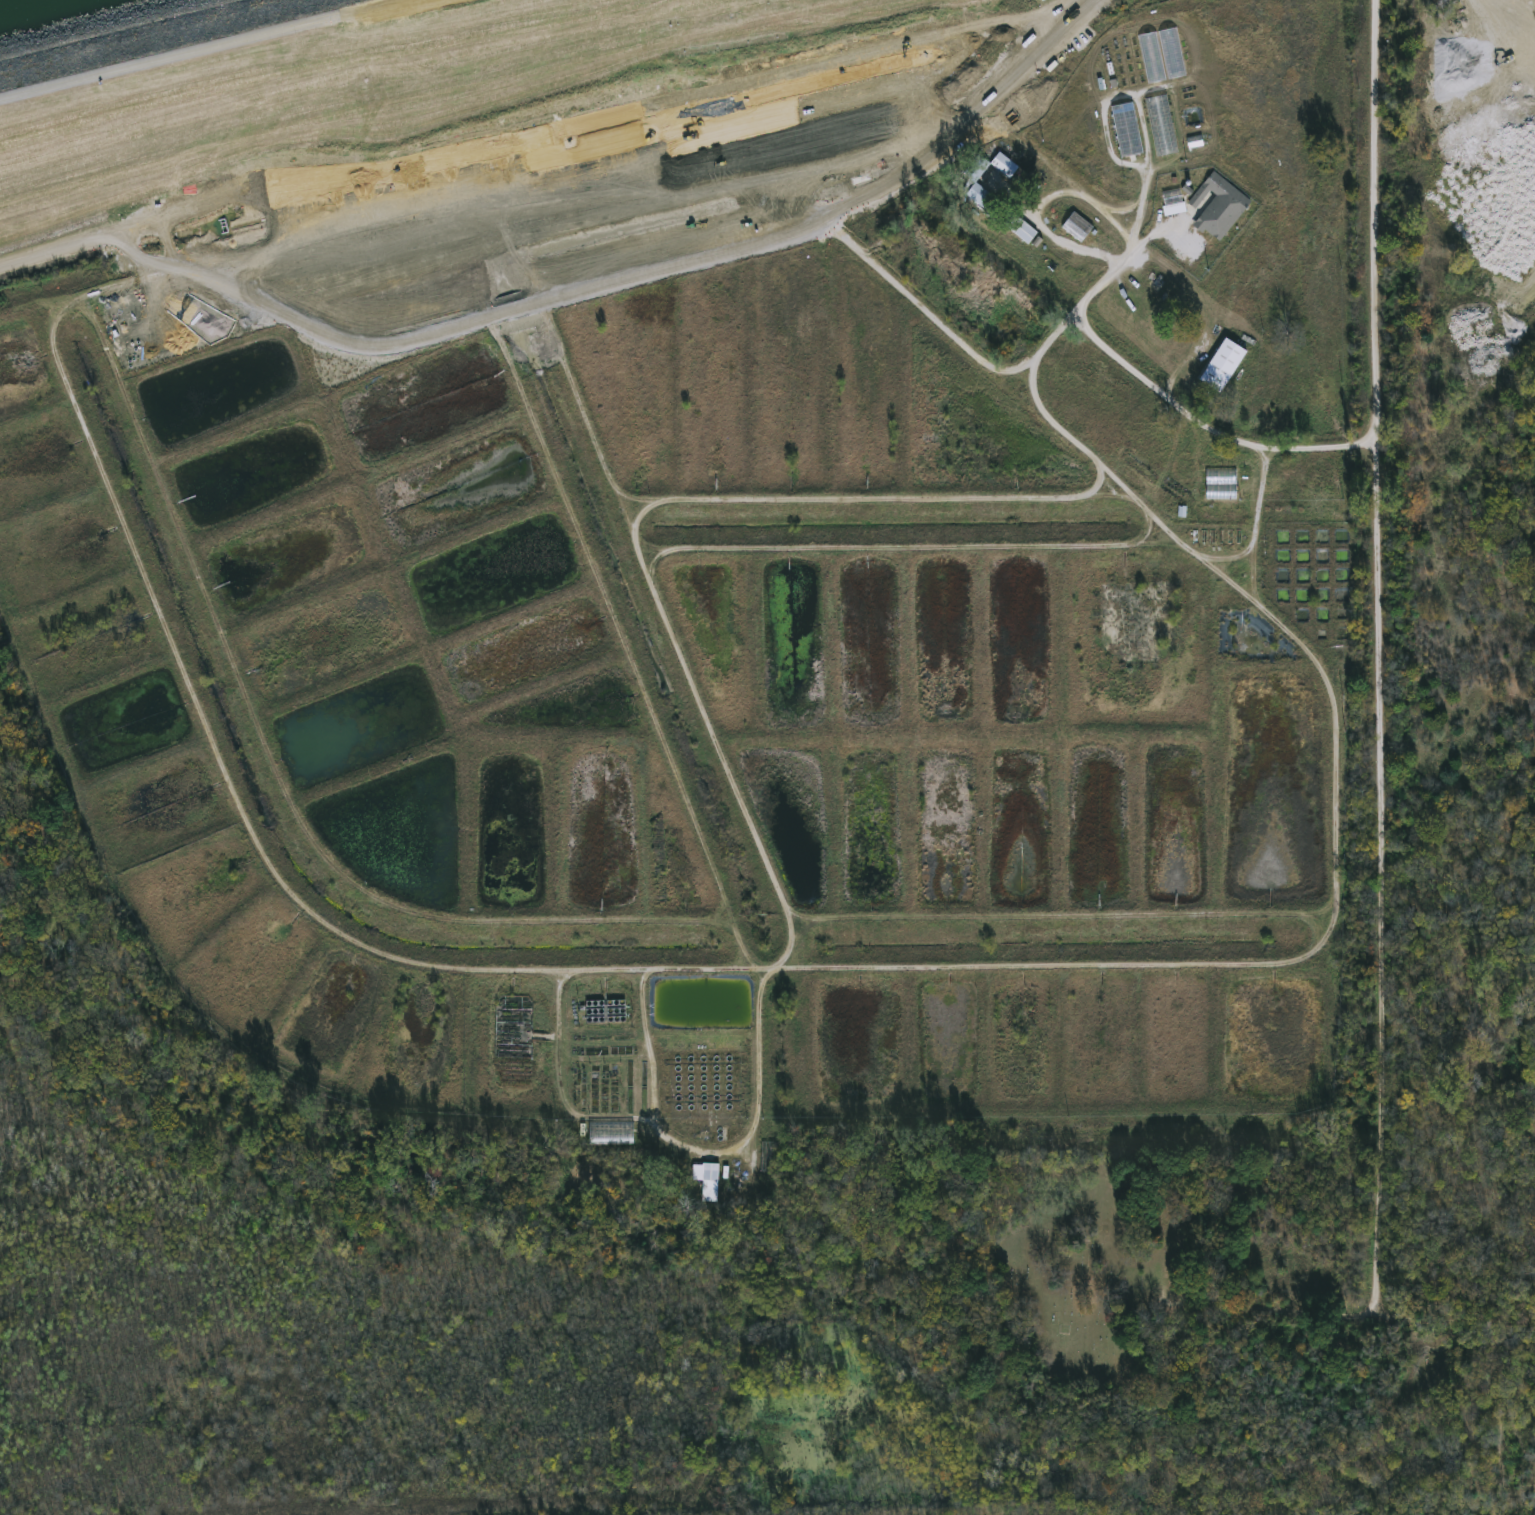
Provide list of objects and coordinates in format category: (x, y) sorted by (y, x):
road: (199, 48)
building: (1160, 57)
dam: (338, 78)
building: (1127, 131)
road: (533, 135)
building: (970, 180)
building: (1219, 208)
building: (1173, 210)
road: (1036, 221)
building: (1019, 229)
building: (1077, 229)
road: (1135, 364)
building: (1284, 548)
aquafarm: (741, 620)
road: (1377, 736)
building: (515, 1028)
building: (707, 1181)
park: (1083, 1276)
road: (1294, 1312)

